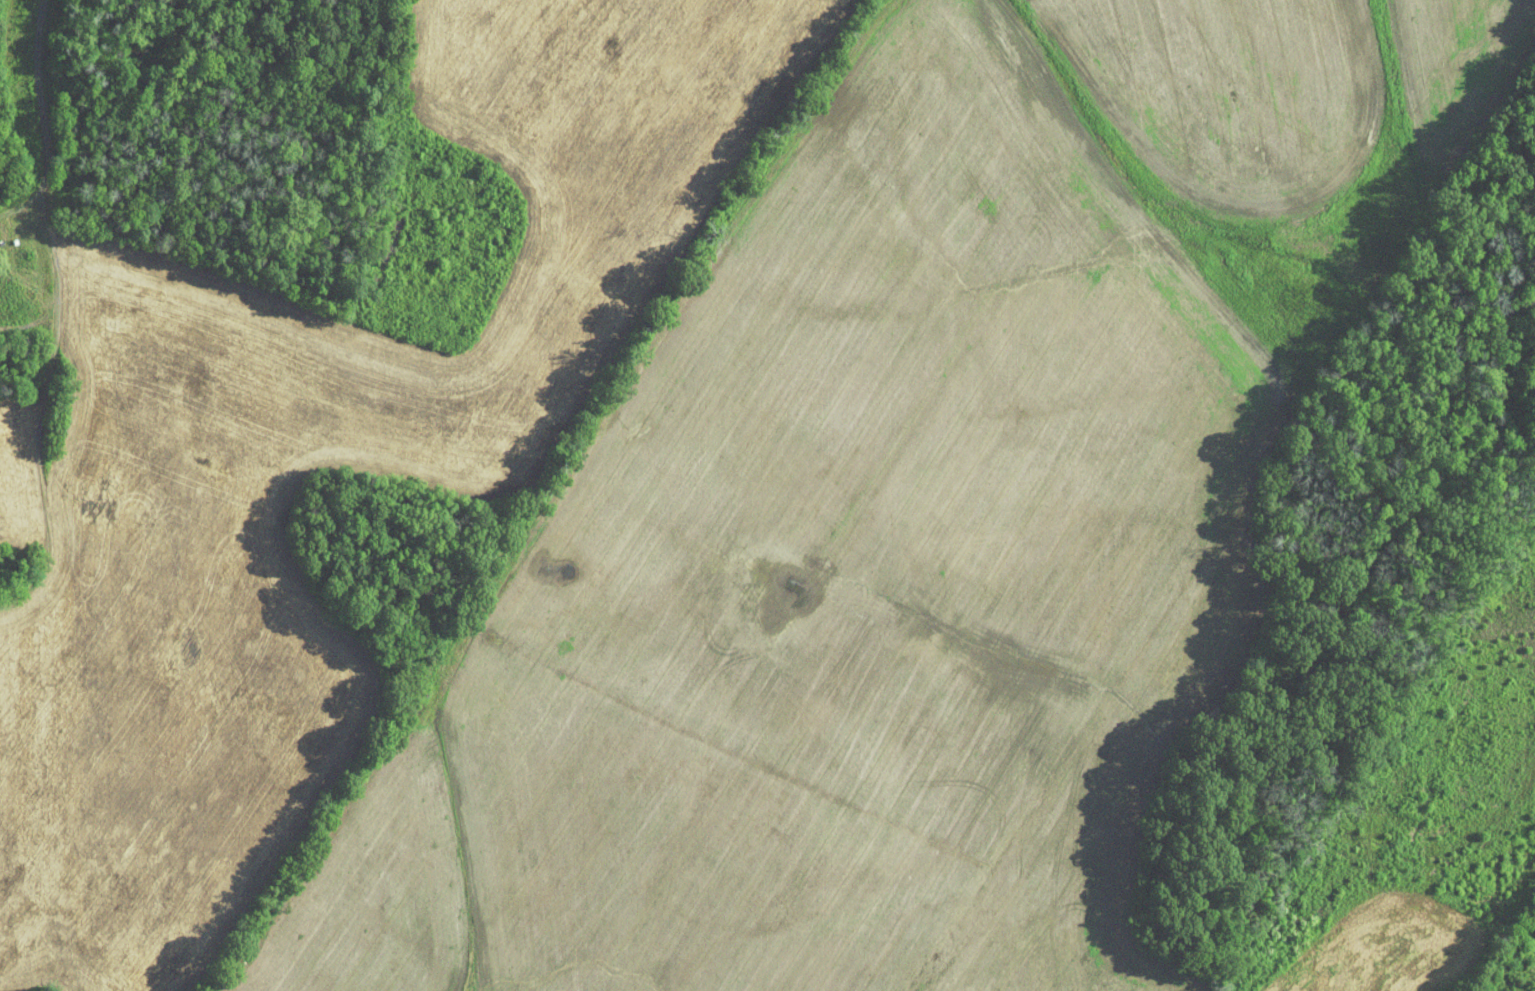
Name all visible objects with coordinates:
road: (44, 117)

